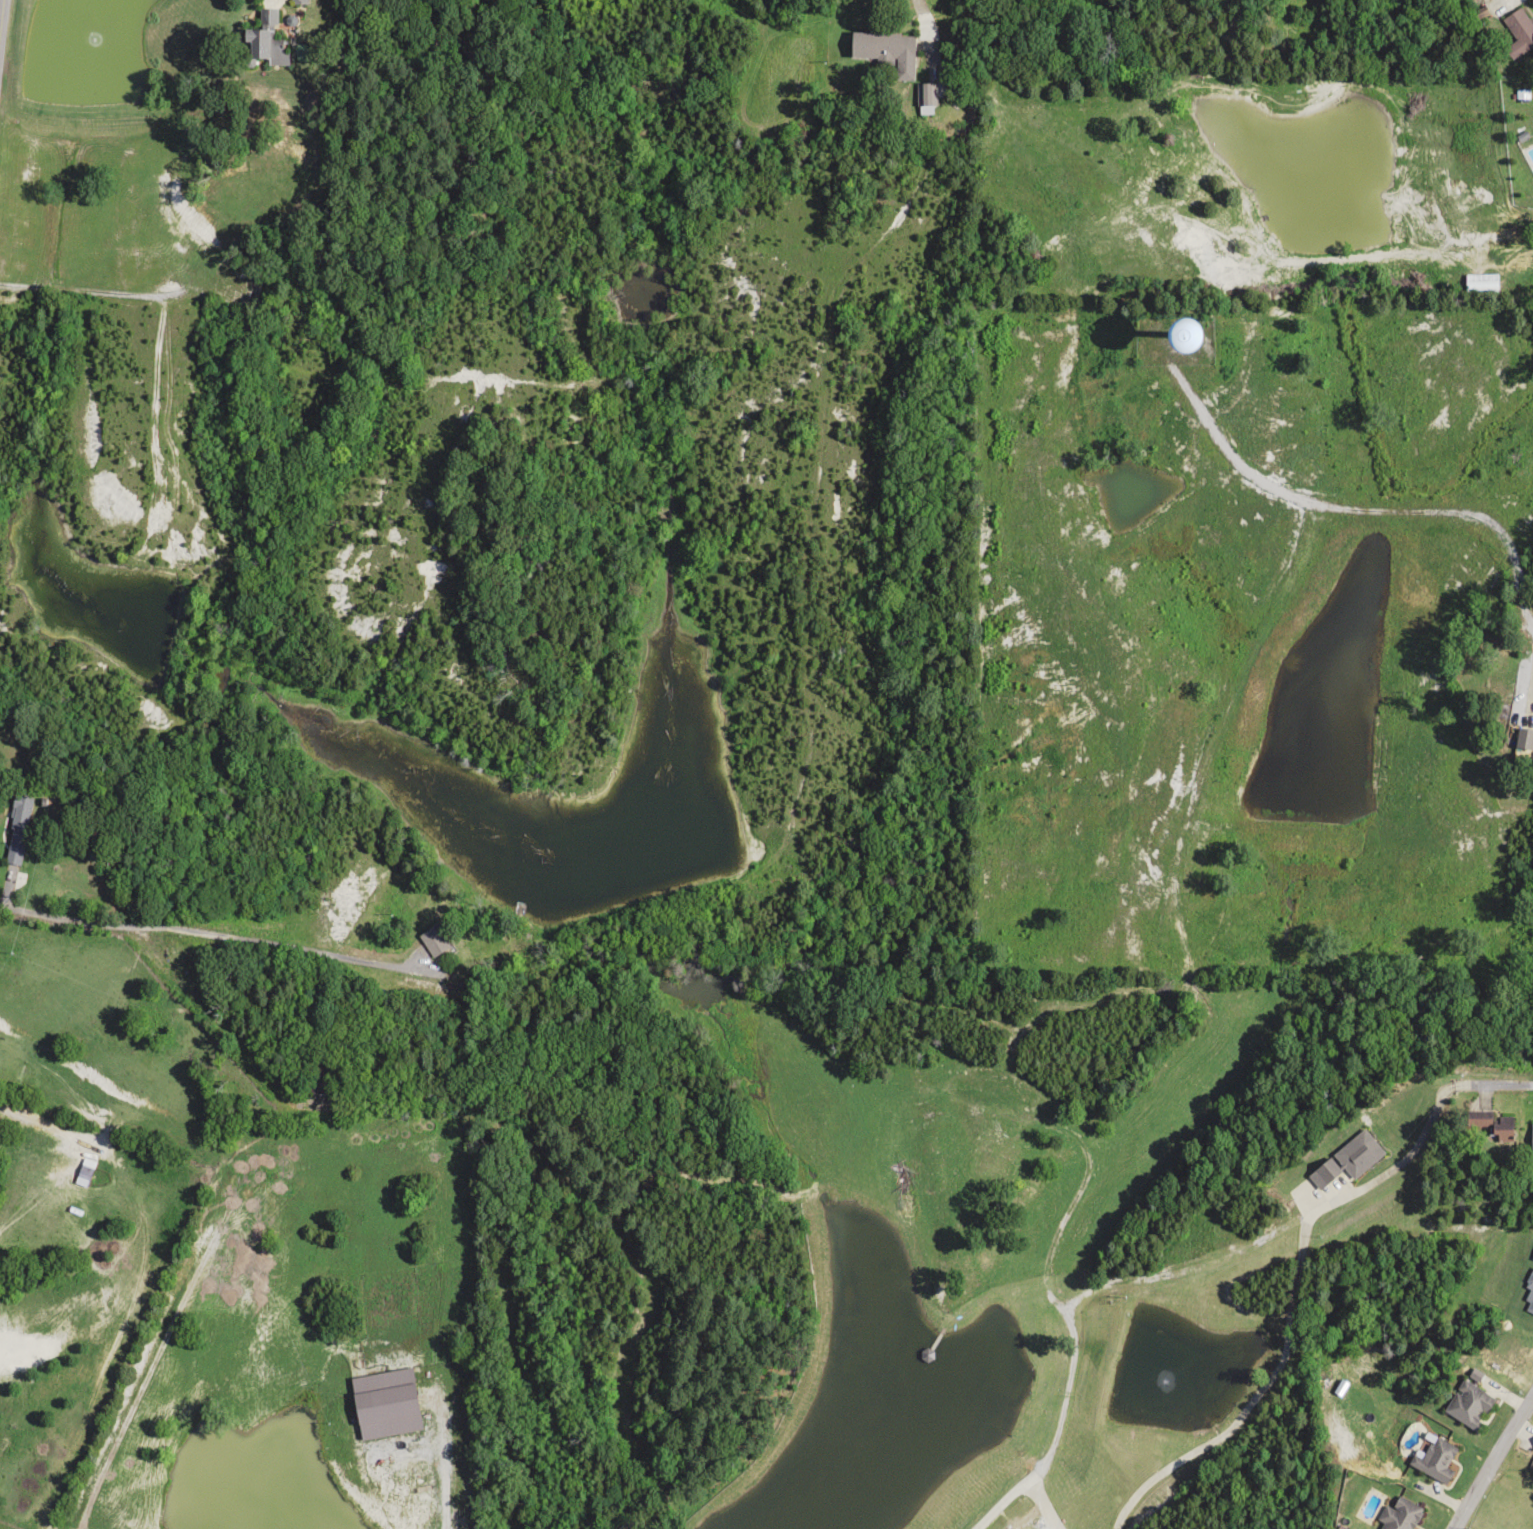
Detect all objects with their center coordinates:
road: (922, 17)
building: (1517, 31)
building: (257, 34)
building: (882, 50)
road: (9, 70)
building: (1479, 282)
building: (1522, 738)
building: (15, 829)
building: (430, 940)
building: (1499, 1127)
building: (1530, 1138)
building: (1346, 1158)
building: (1467, 1404)
building: (1436, 1458)
road: (1491, 1460)
building: (1399, 1515)

